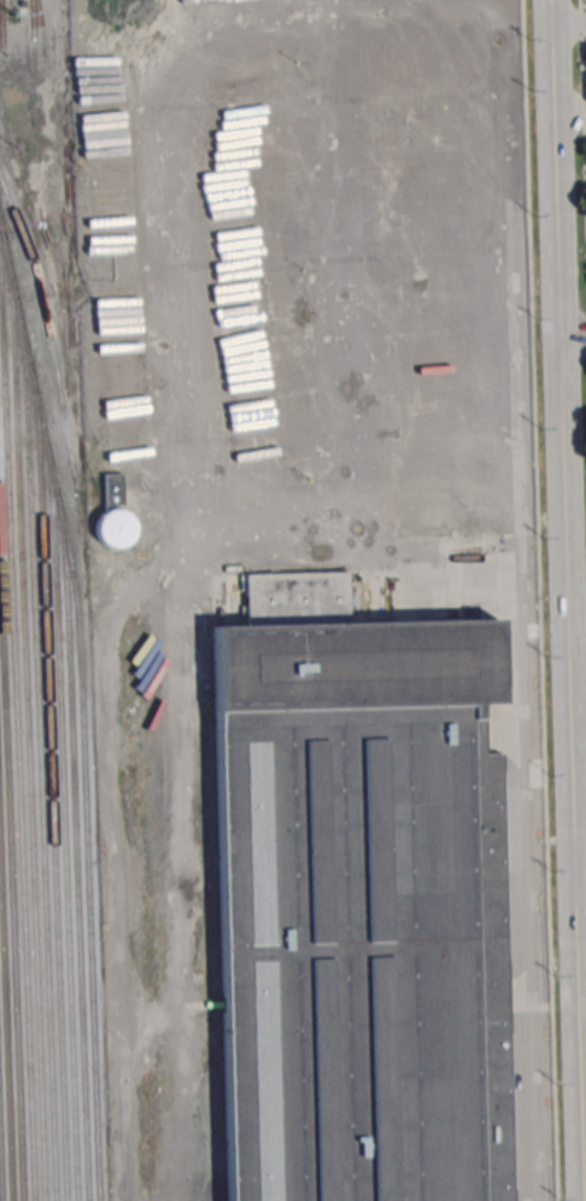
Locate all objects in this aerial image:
road: (567, 27)
building: (585, 51)
road: (42, 186)
railway: (48, 330)
building: (115, 515)
road: (570, 599)
road: (579, 621)
railway: (82, 698)
railway: (17, 716)
railway: (28, 737)
railway: (40, 767)
railway: (52, 795)
railway: (64, 828)
road: (580, 850)
railway: (76, 861)
road: (580, 861)
railway: (12, 868)
building: (362, 912)
road: (538, 913)
railway: (5, 1024)
railway: (0, 1193)

